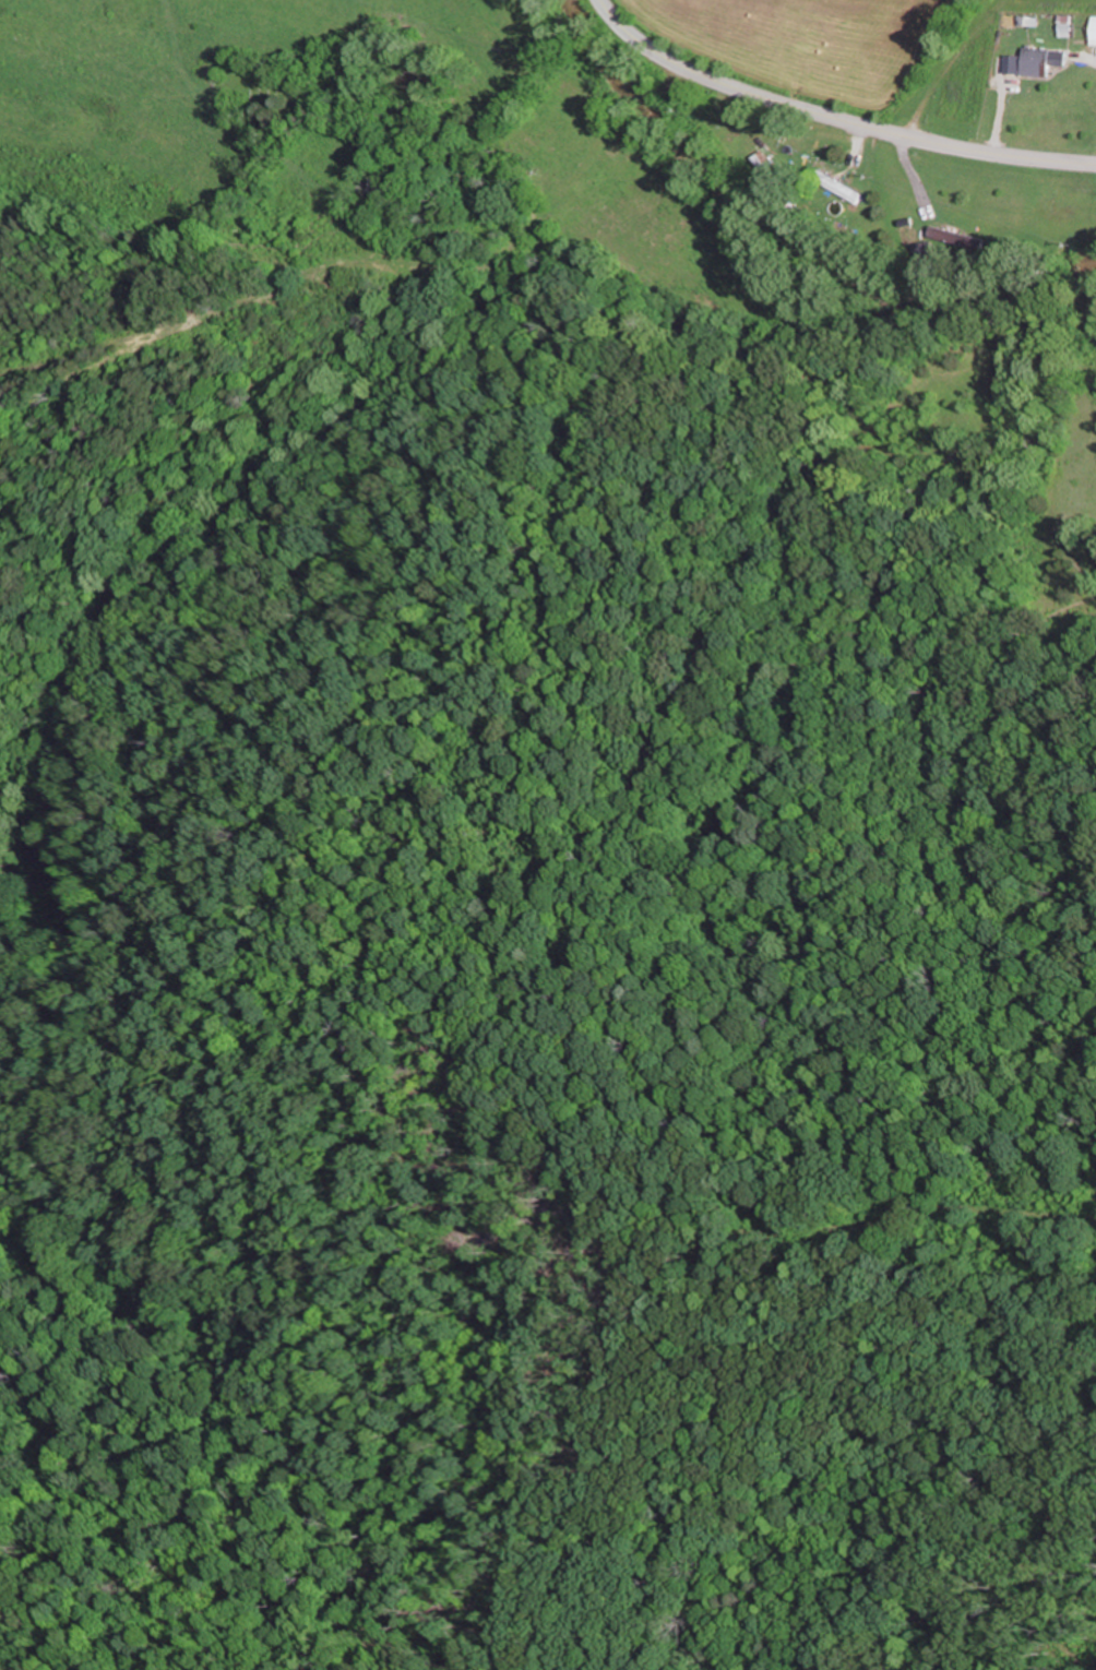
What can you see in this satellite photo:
building: (1039, 61)
road: (596, 117)
road: (834, 118)
building: (769, 170)
building: (384, 189)
building: (846, 190)

